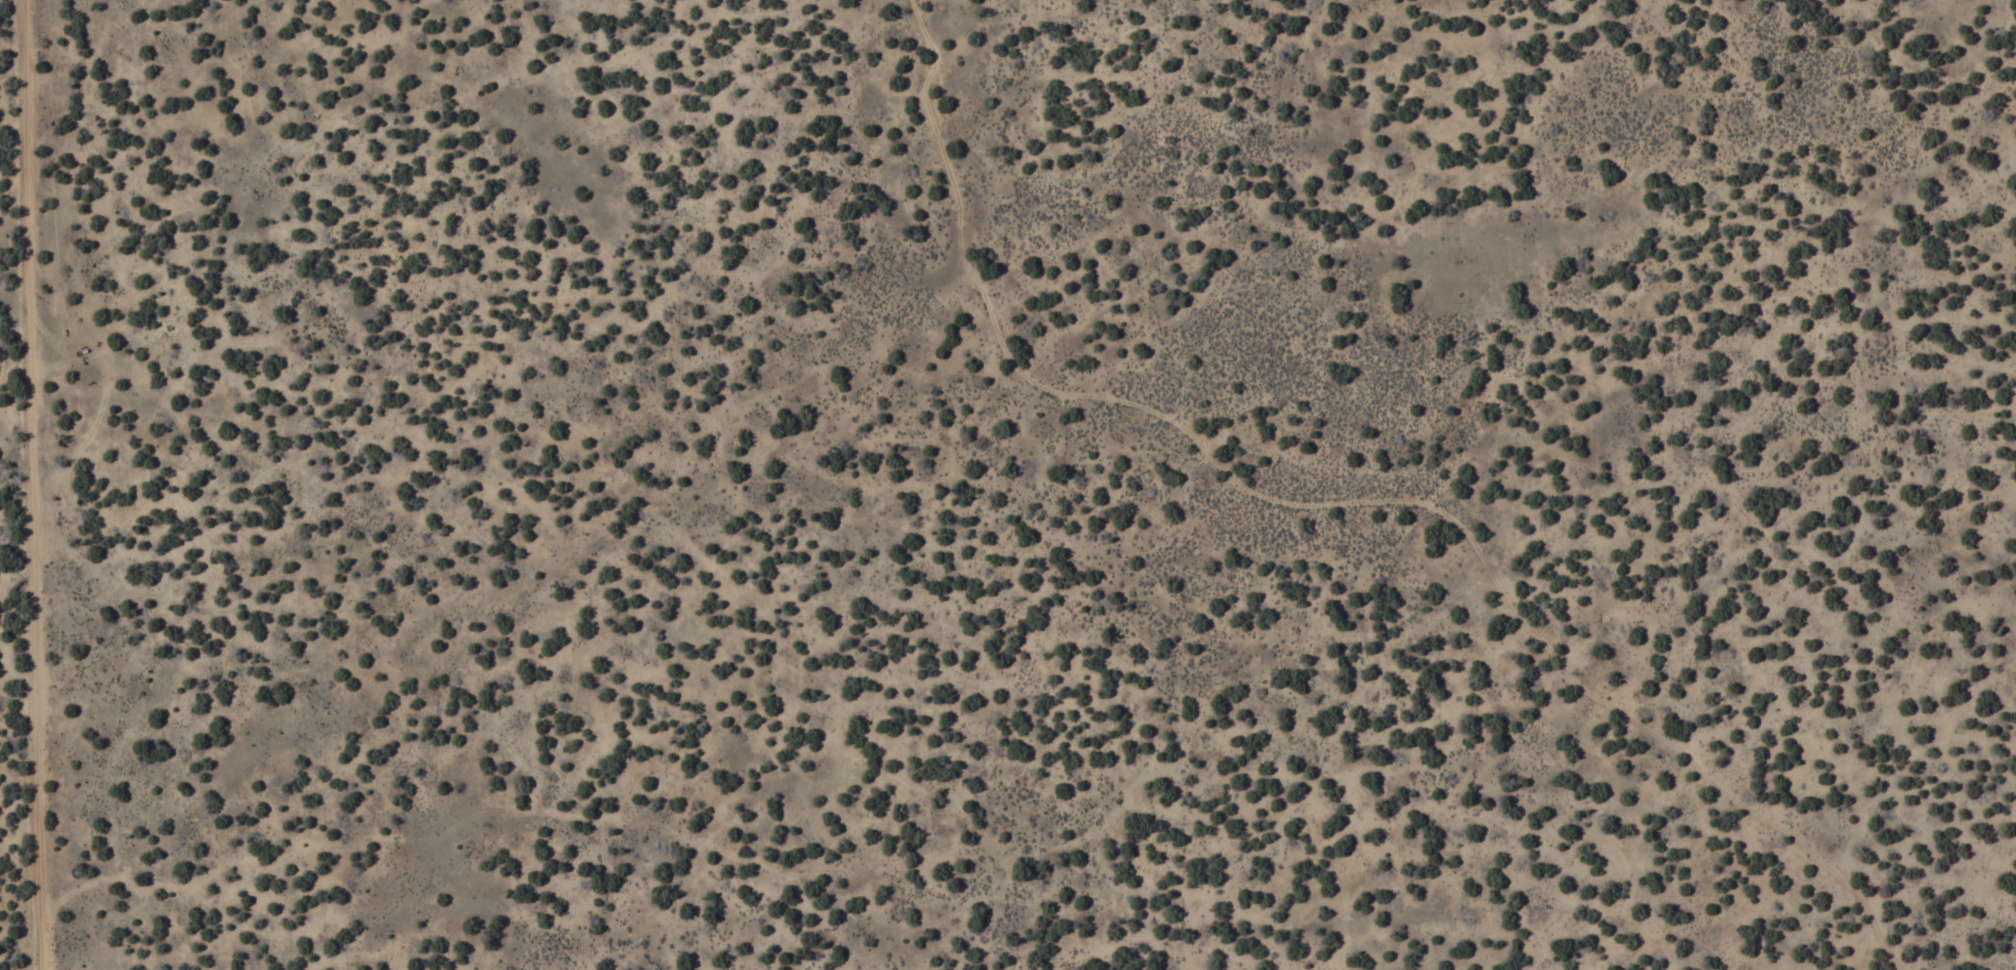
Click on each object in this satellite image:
road: (32, 485)
road: (1340, 505)

